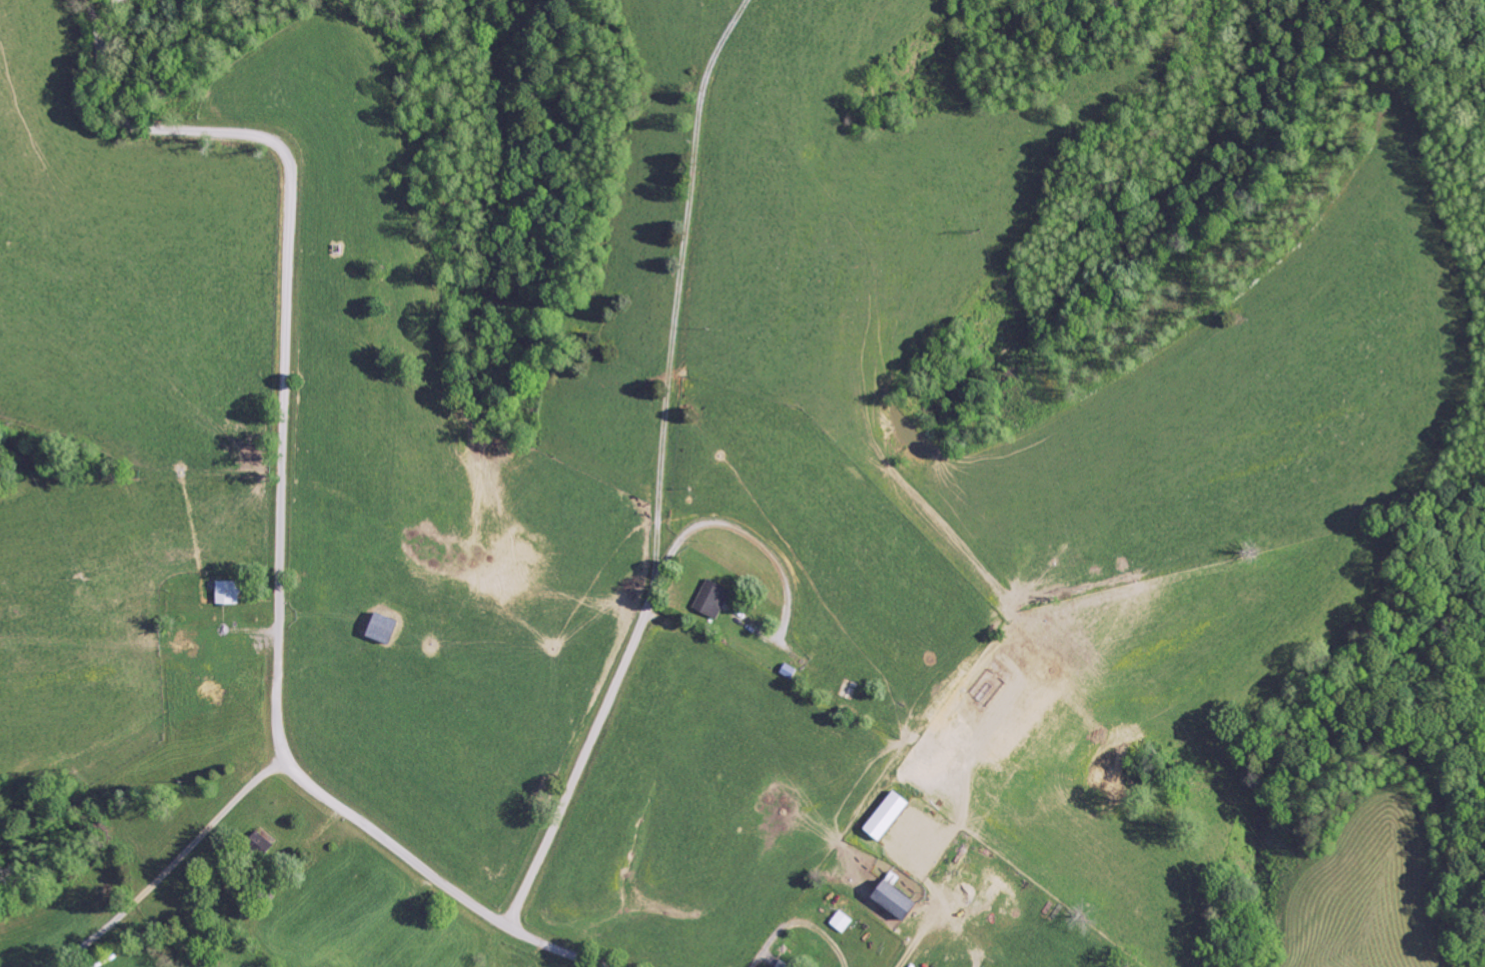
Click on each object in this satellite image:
road: (284, 354)
road: (657, 487)
road: (775, 559)
building: (231, 592)
building: (713, 599)
building: (387, 629)
road: (599, 718)
building: (891, 816)
building: (901, 902)
road: (472, 905)
building: (784, 964)

